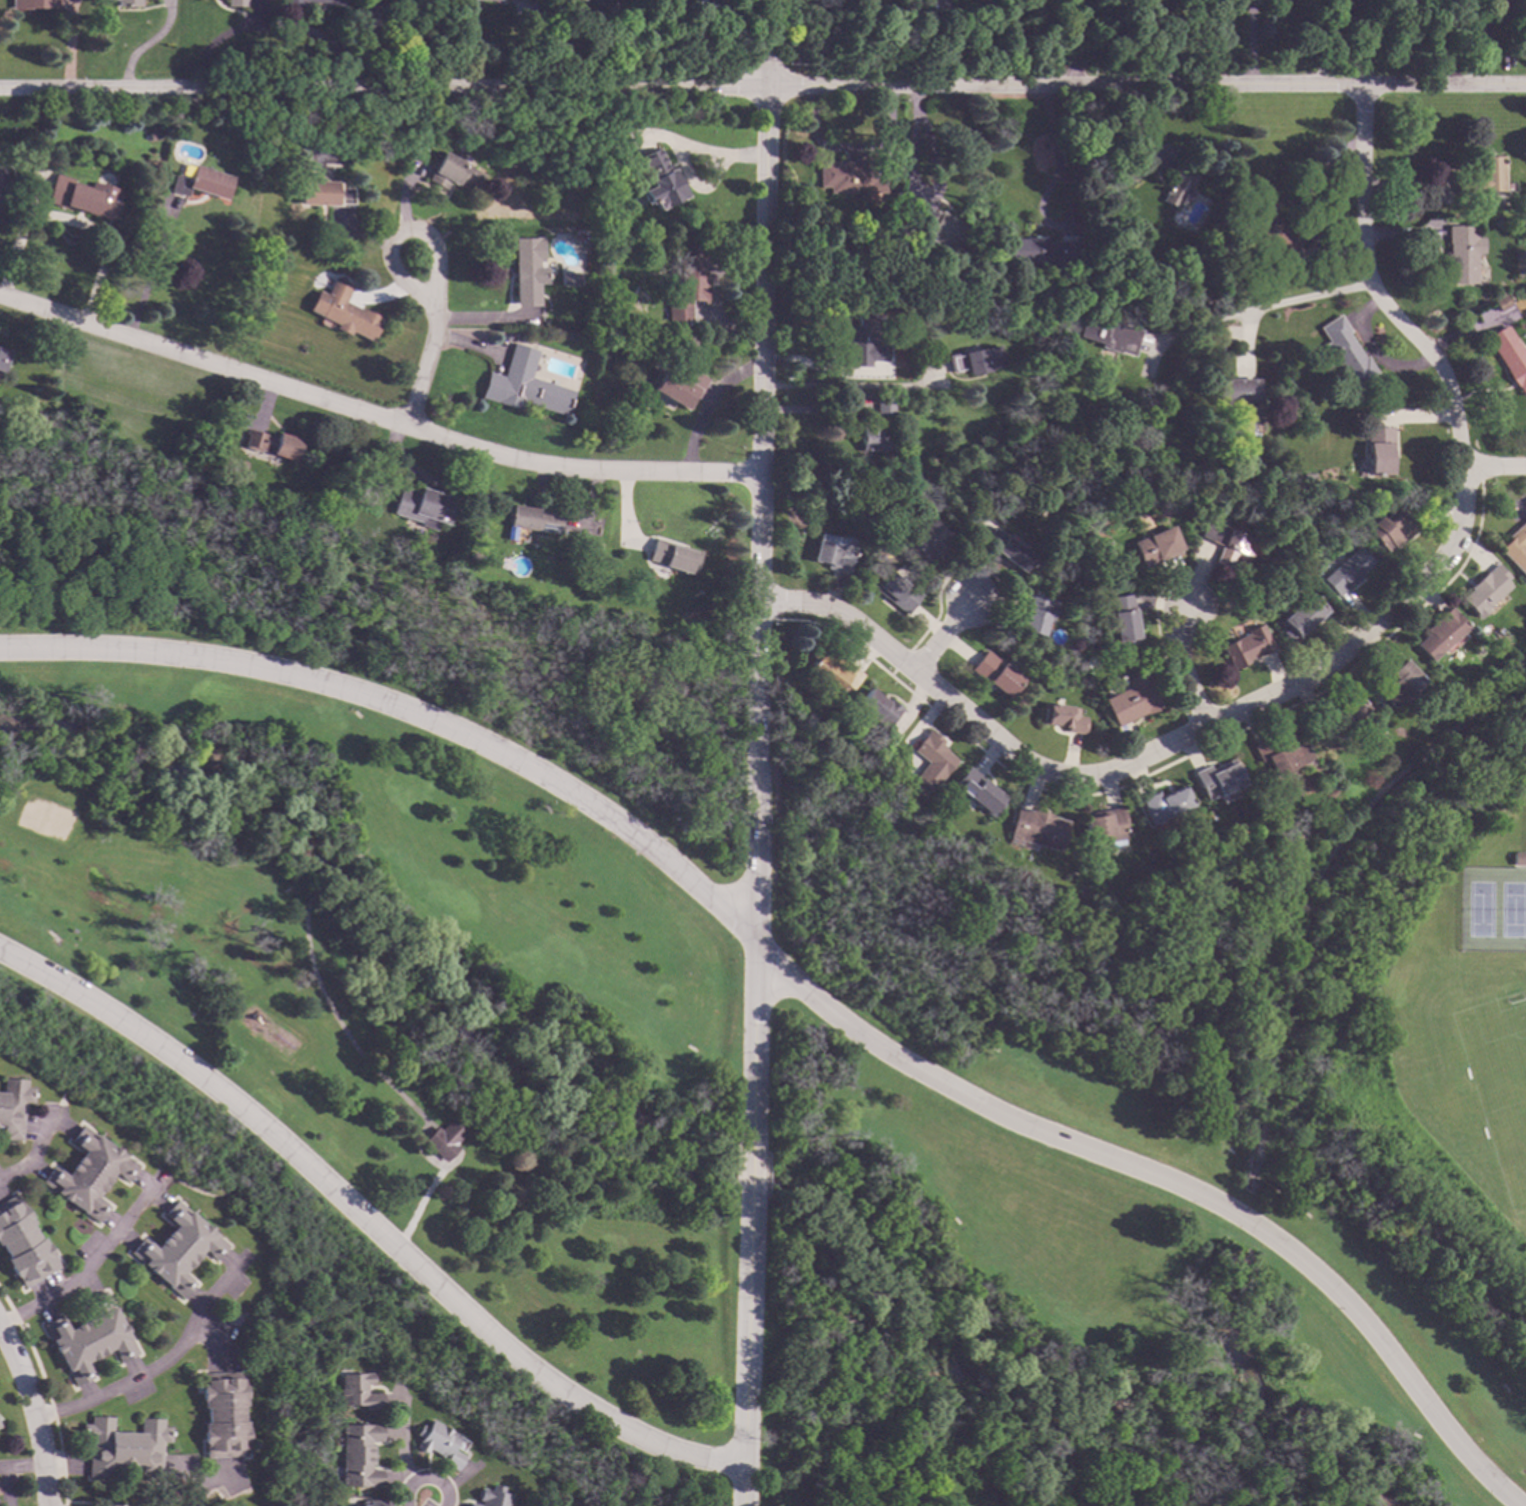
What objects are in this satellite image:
building: (382, 0)
building: (480, 0)
building: (614, 0)
building: (237, 2)
building: (416, 2)
building: (128, 3)
building: (293, 3)
building: (34, 4)
building: (698, 5)
road: (1481, 28)
road: (1441, 37)
road: (219, 40)
road: (1166, 42)
road: (1250, 42)
road: (1328, 42)
road: (1076, 43)
road: (147, 46)
road: (763, 88)
building: (455, 173)
building: (851, 175)
building: (1481, 177)
building: (659, 180)
building: (203, 182)
road: (913, 184)
building: (1176, 186)
building: (325, 193)
building: (84, 197)
road: (1066, 198)
building: (935, 225)
road: (404, 229)
building: (1270, 237)
building: (1038, 252)
building: (1461, 253)
building: (528, 270)
building: (1080, 276)
building: (1103, 278)
building: (568, 279)
building: (687, 283)
road: (1373, 289)
building: (1502, 302)
building: (343, 310)
road: (1260, 311)
building: (1070, 325)
building: (1110, 336)
building: (864, 341)
building: (1344, 353)
building: (1510, 355)
building: (2, 359)
building: (975, 360)
road: (426, 365)
building: (523, 385)
building: (678, 386)
road: (845, 388)
building: (884, 406)
building: (1237, 407)
road: (374, 414)
building: (871, 438)
building: (270, 443)
building: (1377, 450)
road: (1496, 466)
building: (1305, 478)
building: (422, 507)
building: (532, 519)
building: (1389, 528)
building: (930, 540)
building: (1226, 543)
building: (1154, 546)
building: (1515, 548)
building: (1007, 549)
building: (832, 554)
building: (673, 556)
building: (1346, 571)
road: (758, 572)
building: (1481, 590)
building: (895, 591)
building: (1036, 613)
building: (1300, 617)
building: (1121, 619)
building: (1436, 634)
road: (940, 637)
building: (1246, 646)
building: (831, 669)
road: (1212, 670)
building: (994, 674)
building: (1395, 683)
building: (1132, 699)
building: (876, 708)
building: (1338, 715)
building: (1062, 717)
building: (1278, 754)
road: (1151, 756)
building: (930, 760)
building: (1217, 779)
building: (977, 792)
building: (1161, 804)
park: (45, 819)
building: (1105, 826)
building: (1035, 829)
building: (1511, 861)
park: (1490, 907)
park: (400, 945)
road: (803, 985)
river: (553, 1082)
park: (1496, 1085)
building: (12, 1107)
building: (442, 1139)
road: (30, 1152)
building: (88, 1173)
road: (747, 1173)
road: (365, 1219)
park: (1064, 1219)
building: (22, 1244)
building: (176, 1248)
road: (88, 1266)
road: (0, 1328)
building: (88, 1338)
road: (743, 1352)
road: (154, 1366)
building: (358, 1391)
road: (33, 1413)
building: (223, 1414)
building: (438, 1442)
building: (124, 1447)
building: (359, 1454)
road: (24, 1465)
road: (2, 1467)
road: (426, 1476)
road: (205, 1482)
road: (6, 1486)
building: (491, 1497)
building: (371, 1502)

